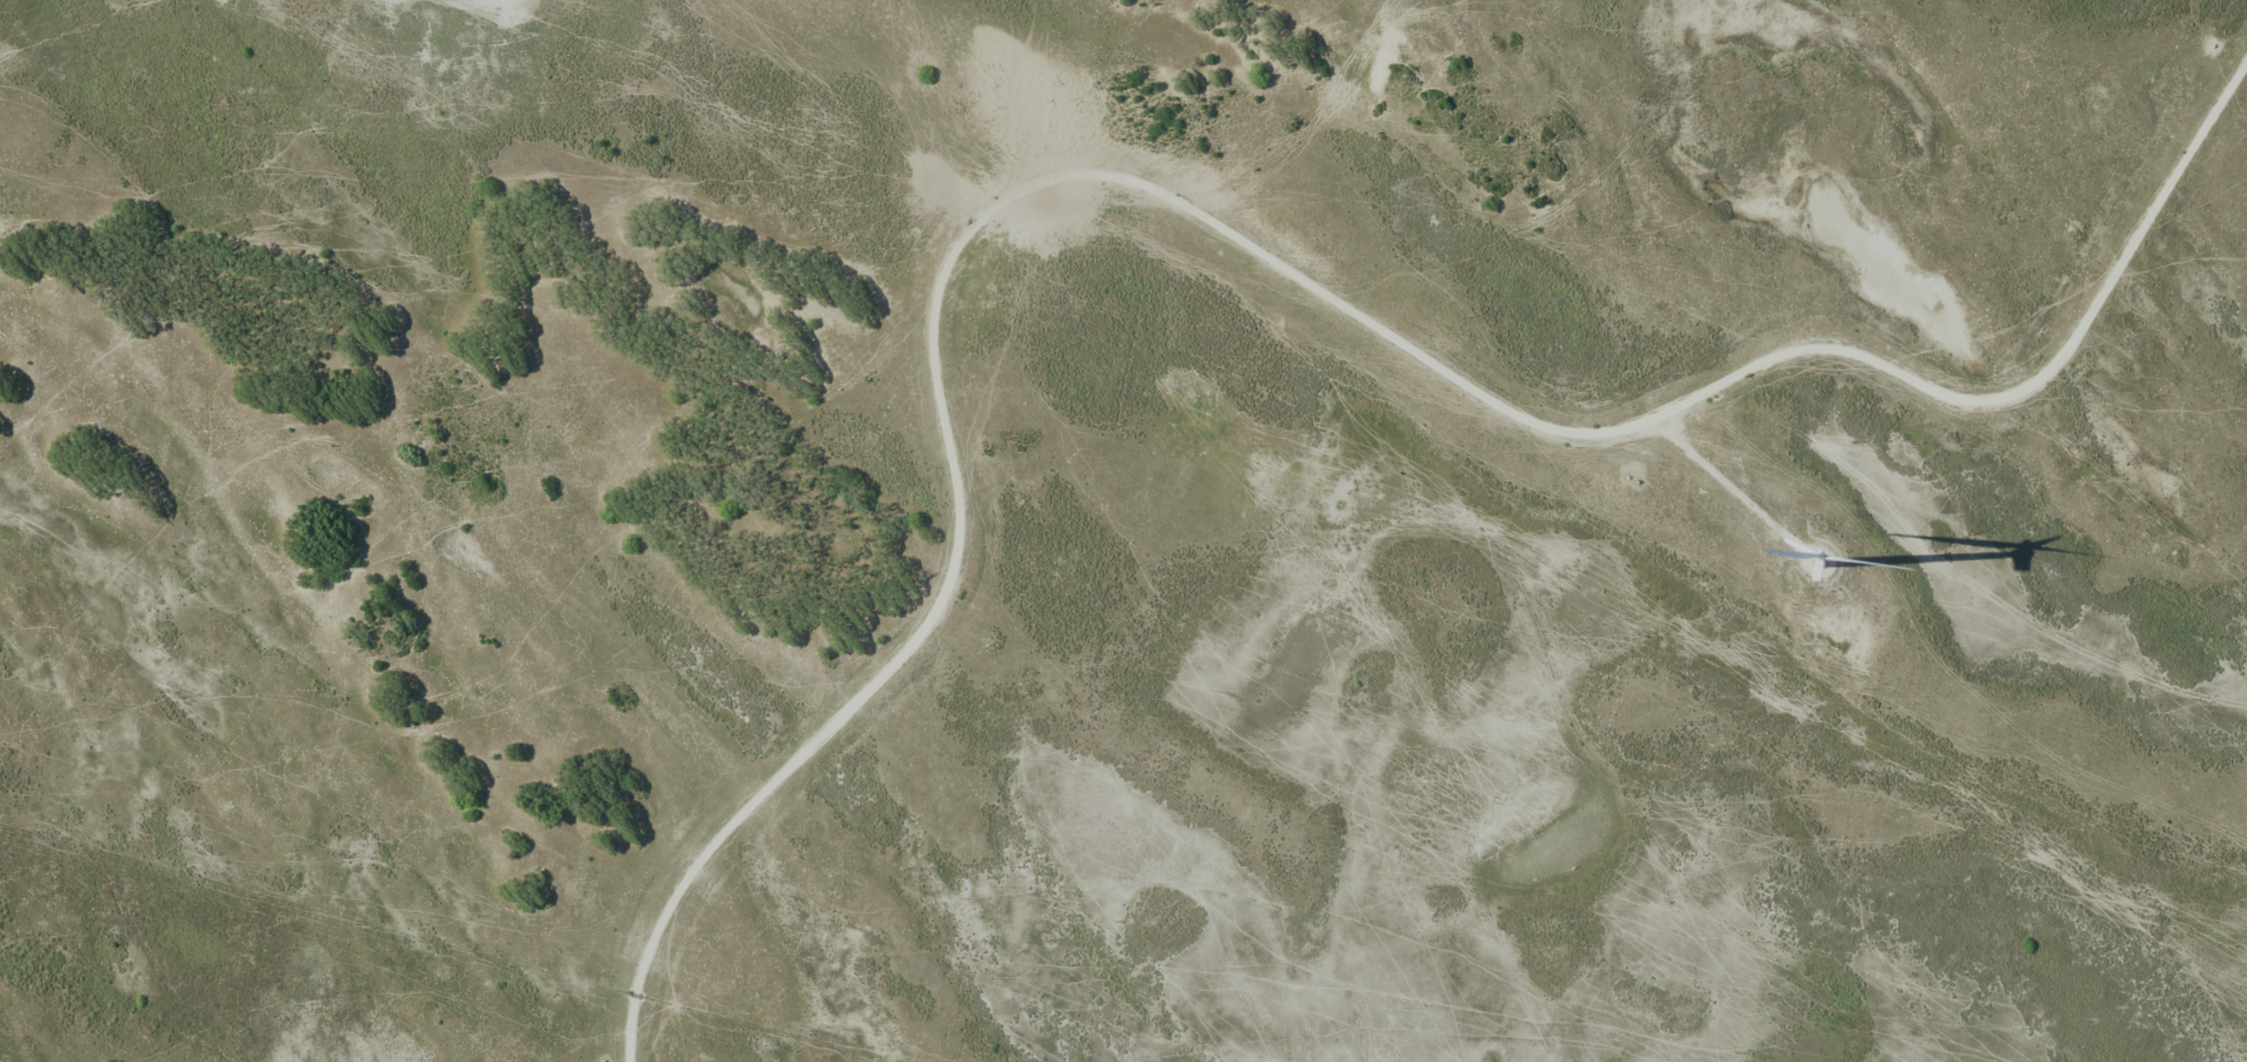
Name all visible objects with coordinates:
wind turbine: (1825, 566)

